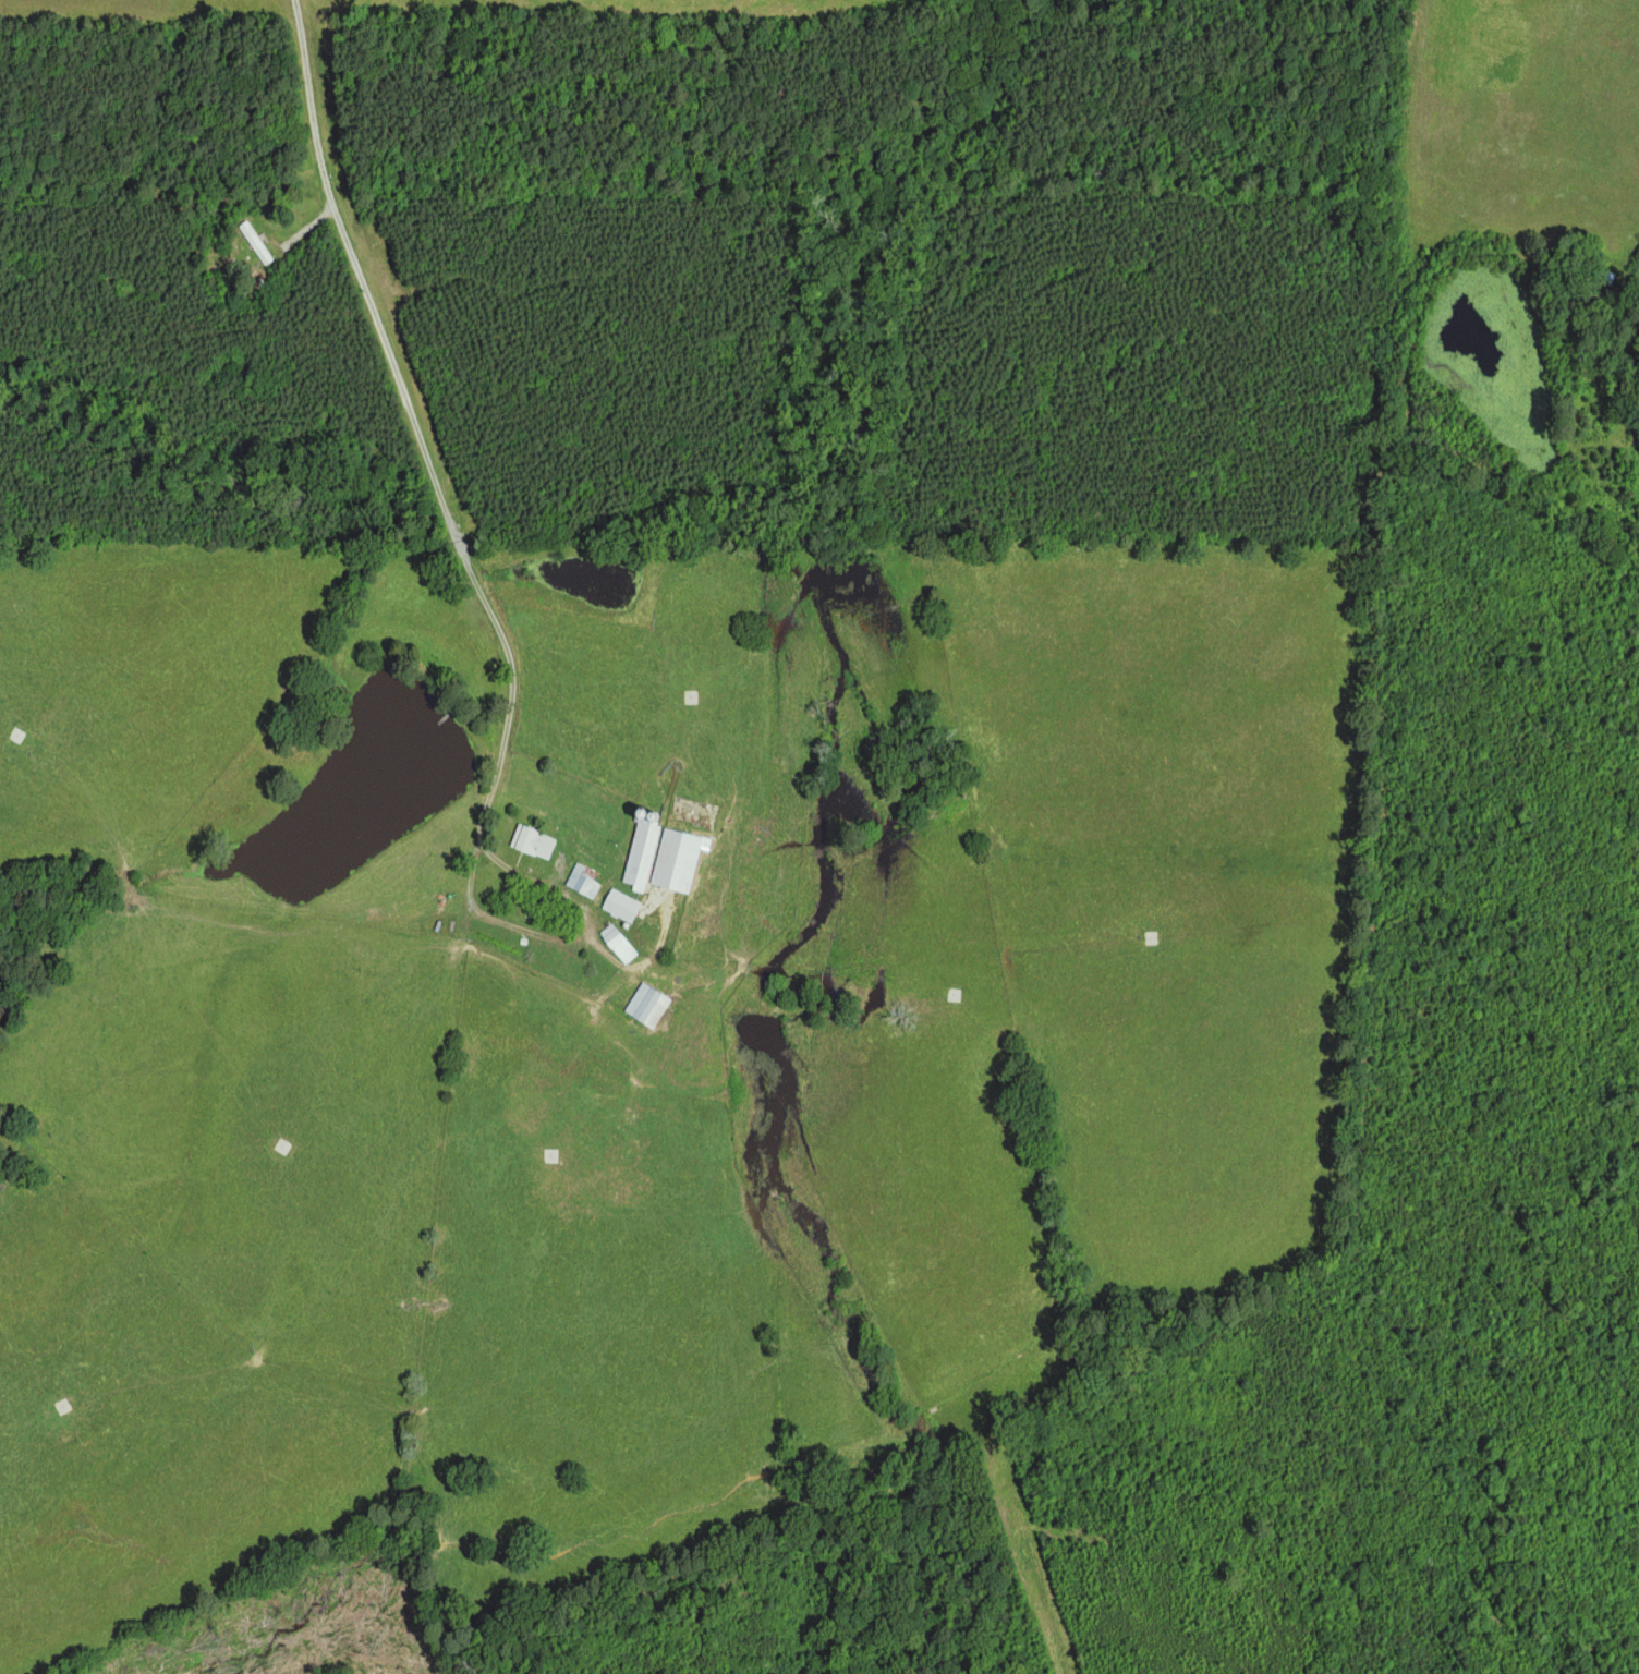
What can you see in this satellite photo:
road: (413, 413)
building: (531, 841)
building: (639, 856)
building: (675, 859)
building: (581, 881)
building: (618, 905)
building: (616, 944)
building: (645, 1005)

